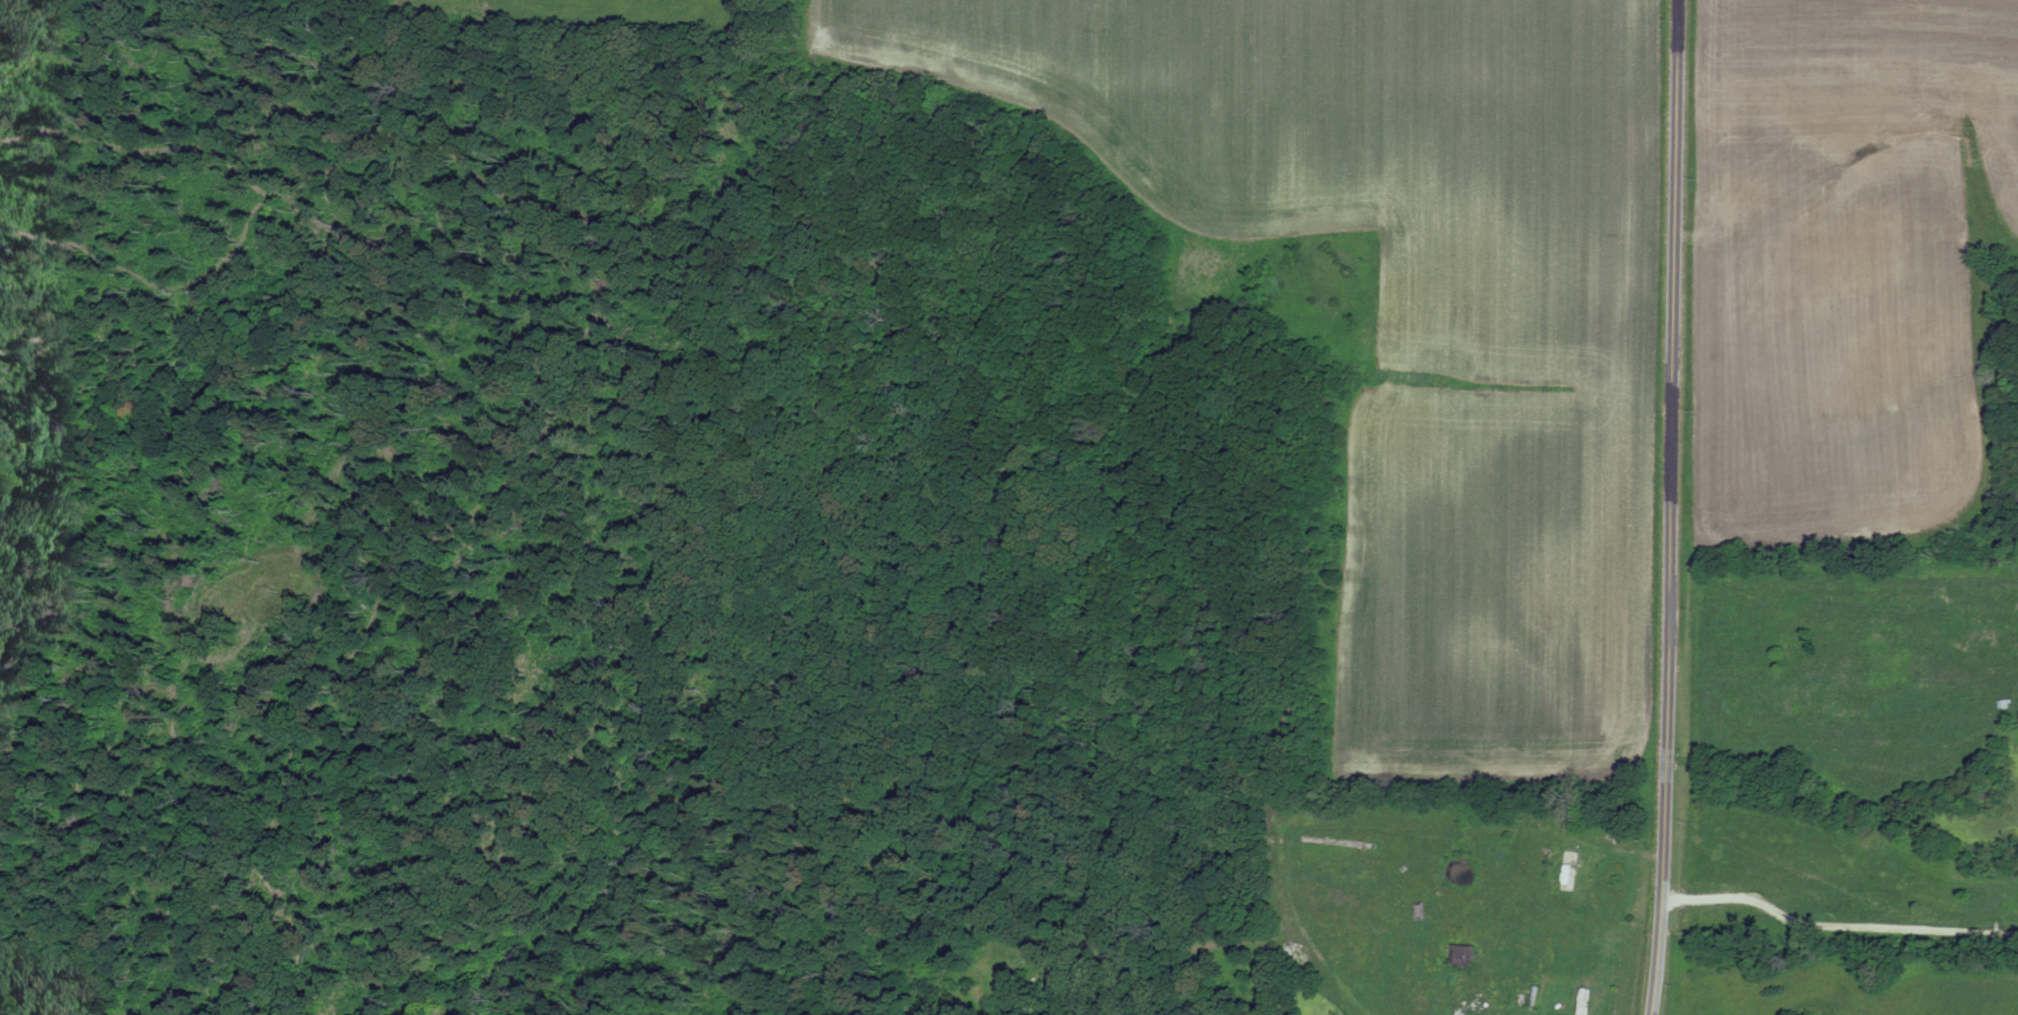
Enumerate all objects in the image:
road: (1674, 507)
building: (1571, 872)
road: (1837, 927)
building: (1465, 958)
building: (1585, 1002)

